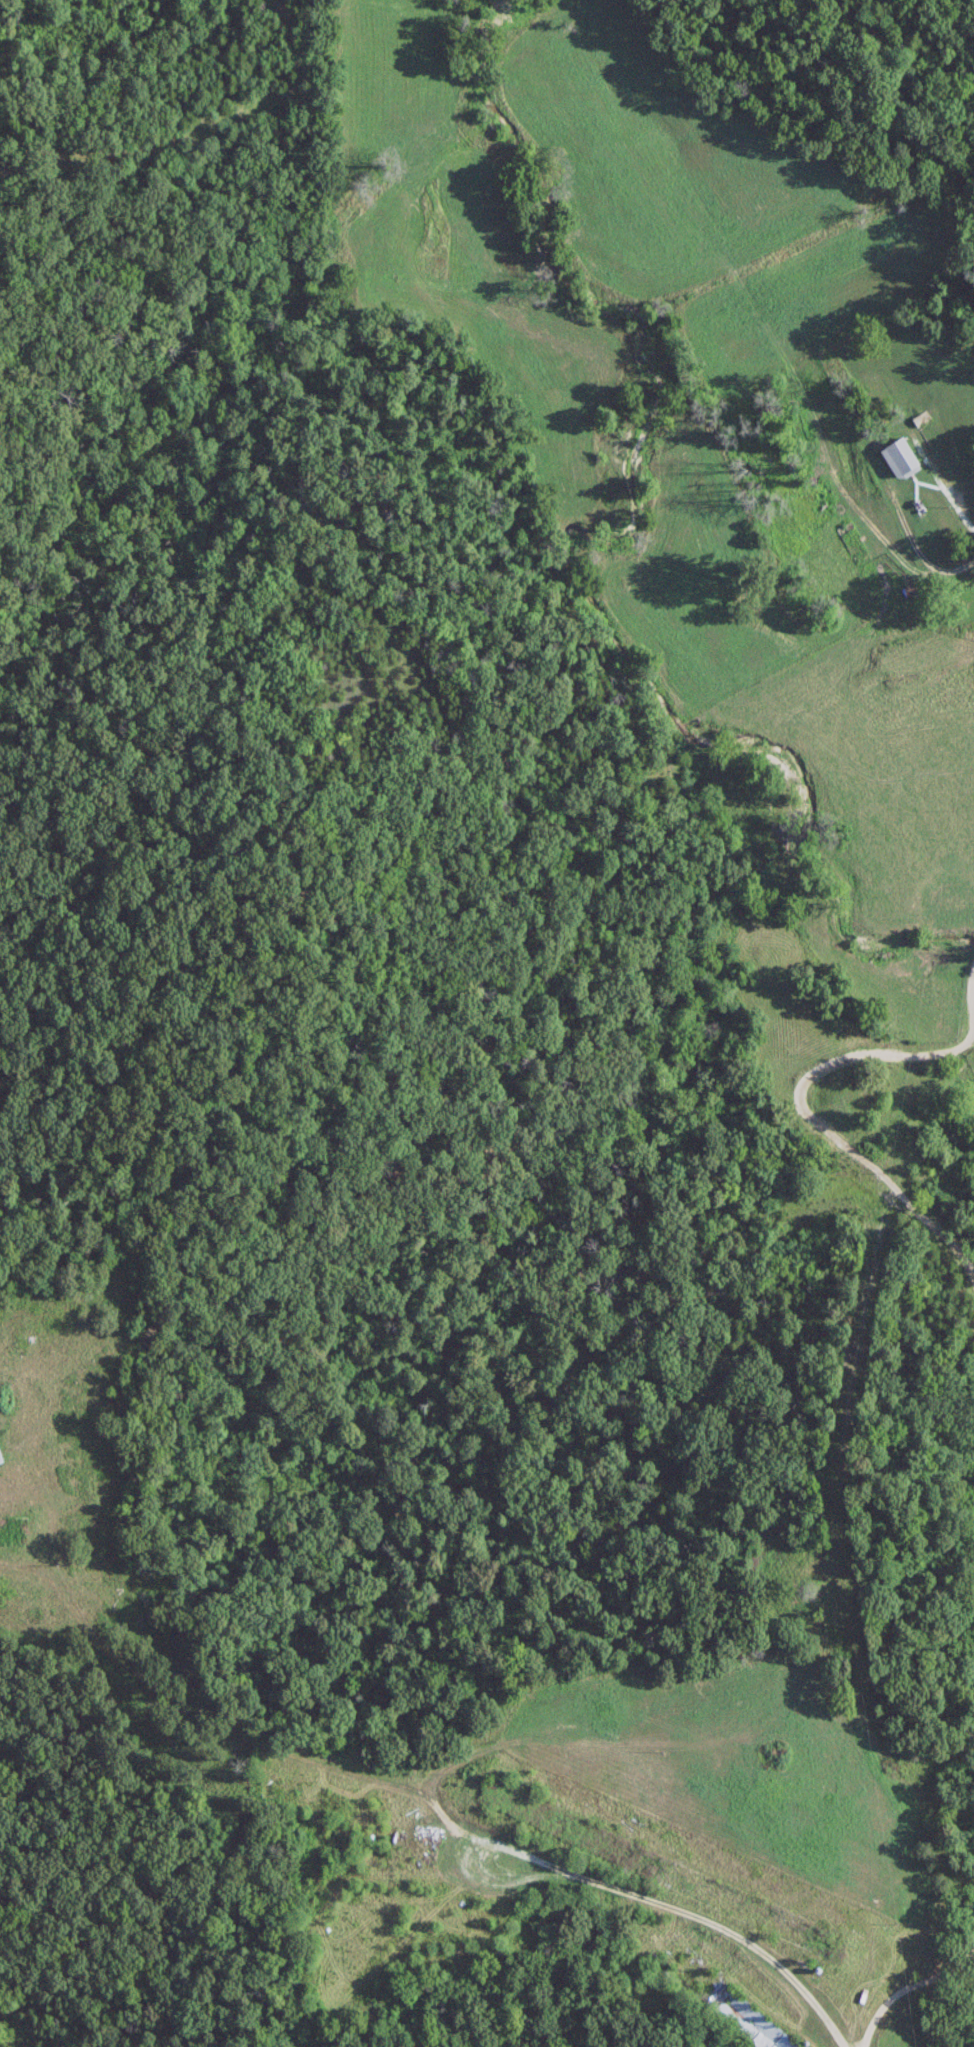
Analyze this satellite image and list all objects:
building: (901, 456)
building: (856, 547)
road: (969, 559)
road: (797, 1090)
building: (1, 1455)
road: (906, 1987)
building: (730, 2004)

